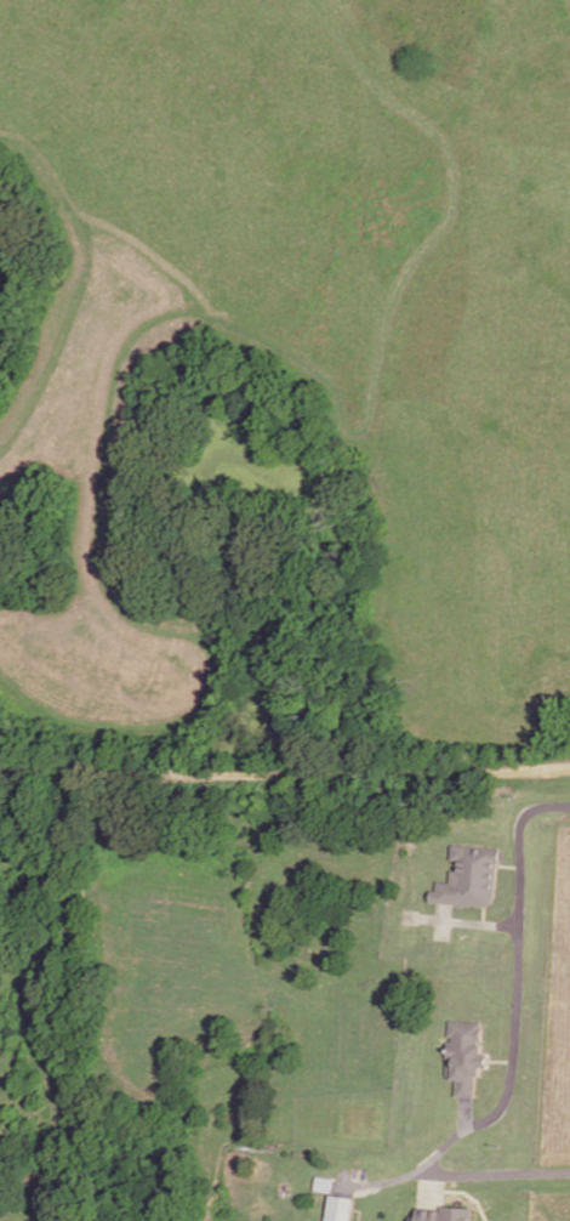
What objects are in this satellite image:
road: (284, 778)
building: (383, 871)
building: (471, 875)
road: (463, 919)
road: (515, 1030)
building: (468, 1052)
road: (463, 1111)
road: (502, 1170)
building: (324, 1185)
building: (341, 1209)
building: (443, 1213)

